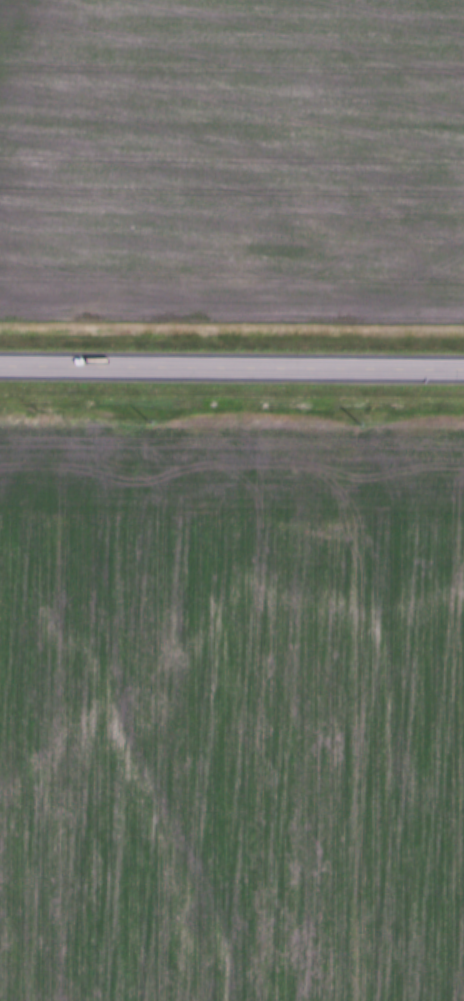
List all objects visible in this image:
road: (232, 368)
crop: (231, 710)

